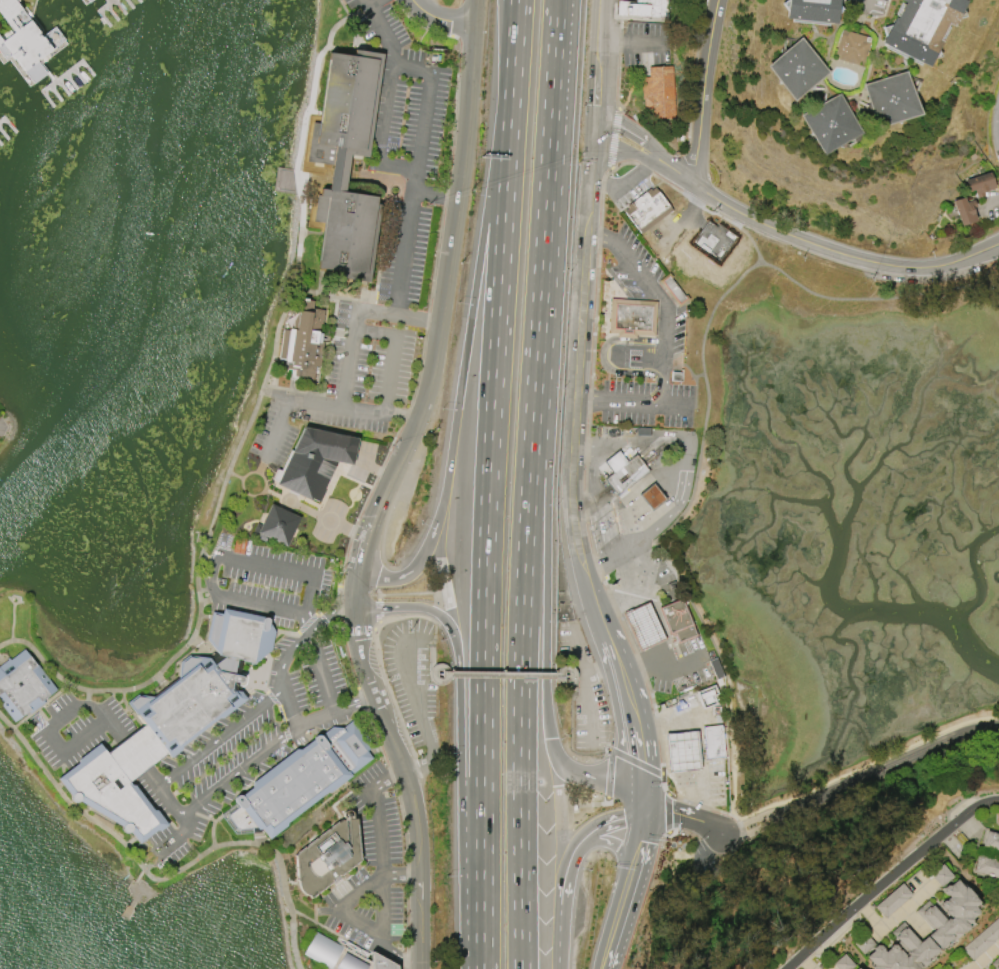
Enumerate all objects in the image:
building: (89, 0)
parking lot: (640, 0)
road: (377, 3)
building: (646, 7)
road: (867, 7)
building: (813, 10)
road: (476, 12)
road: (360, 13)
road: (441, 18)
road: (600, 20)
building: (922, 27)
road: (383, 30)
building: (24, 37)
road: (636, 42)
parking lot: (648, 44)
road: (514, 46)
building: (852, 47)
building: (798, 69)
road: (596, 84)
road: (704, 92)
building: (662, 93)
building: (891, 100)
building: (831, 124)
traffic signals: (594, 127)
road: (620, 136)
building: (346, 165)
road: (669, 167)
road: (412, 169)
road: (546, 177)
road: (627, 184)
building: (980, 184)
parking lot: (630, 191)
road: (436, 198)
building: (646, 209)
building: (964, 210)
road: (748, 237)
road: (406, 241)
building: (713, 246)
road: (840, 254)
parking lot: (634, 267)
road: (449, 271)
road: (500, 278)
road: (475, 285)
building: (673, 290)
road: (660, 303)
road: (388, 312)
building: (631, 317)
road: (374, 331)
flagpole: (602, 338)
building: (303, 340)
road: (579, 350)
parking lot: (651, 350)
road: (604, 354)
road: (681, 364)
road: (695, 386)
road: (274, 398)
road: (634, 403)
road: (324, 404)
parking lot: (647, 404)
road: (706, 406)
road: (246, 429)
road: (678, 435)
road: (651, 438)
road: (599, 444)
road: (530, 446)
building: (315, 462)
road: (593, 471)
building: (623, 471)
road: (627, 475)
road: (541, 486)
parking lot: (408, 488)
road: (682, 490)
building: (651, 496)
road: (592, 500)
road: (612, 521)
road: (659, 522)
building: (276, 526)
road: (605, 526)
road: (598, 531)
gas station: (649, 549)
road: (614, 554)
road: (359, 555)
road: (423, 555)
road: (441, 563)
road: (270, 565)
parking lot: (663, 570)
road: (204, 573)
road: (404, 591)
road: (595, 605)
road: (378, 606)
road: (414, 606)
building: (676, 620)
building: (643, 625)
road: (400, 627)
road: (355, 630)
road: (354, 636)
road: (431, 640)
road: (614, 648)
road: (668, 660)
road: (380, 665)
road: (601, 666)
road: (564, 668)
parking lot: (684, 668)
road: (571, 669)
road: (394, 675)
road: (503, 675)
road: (545, 676)
road: (432, 677)
road: (625, 677)
road: (433, 678)
parking lot: (412, 683)
building: (22, 685)
road: (586, 685)
road: (573, 689)
parking lot: (586, 692)
road: (580, 696)
building: (708, 696)
road: (286, 698)
road: (459, 698)
road: (374, 700)
road: (415, 701)
road: (264, 702)
road: (98, 712)
road: (334, 713)
road: (483, 716)
building: (170, 724)
building: (713, 741)
road: (571, 742)
gas station: (696, 744)
road: (592, 749)
road: (643, 750)
building: (683, 751)
road: (396, 753)
road: (520, 753)
road: (636, 762)
traffic signals: (644, 763)
road: (610, 766)
road: (235, 770)
road: (568, 770)
road: (861, 781)
building: (300, 785)
road: (627, 791)
road: (707, 792)
road: (603, 803)
traffic signals: (644, 804)
road: (668, 811)
road: (673, 812)
road: (560, 816)
traffic signals: (624, 818)
road: (605, 823)
road: (416, 825)
road: (713, 826)
road: (213, 837)
road: (639, 841)
traffic signals: (640, 841)
road: (172, 842)
road: (612, 843)
road: (736, 846)
building: (989, 856)
building: (331, 857)
road: (467, 860)
road: (149, 861)
road: (400, 873)
road: (565, 875)
building: (939, 875)
road: (165, 878)
road: (889, 878)
road: (418, 889)
building: (892, 900)
road: (384, 907)
building: (948, 914)
pier: (124, 917)
road: (418, 920)
road: (617, 923)
road: (559, 933)
building: (915, 945)
road: (398, 955)
road: (419, 955)
road: (983, 955)
building: (341, 956)
building: (995, 963)
road: (483, 968)
building: (856, 968)

